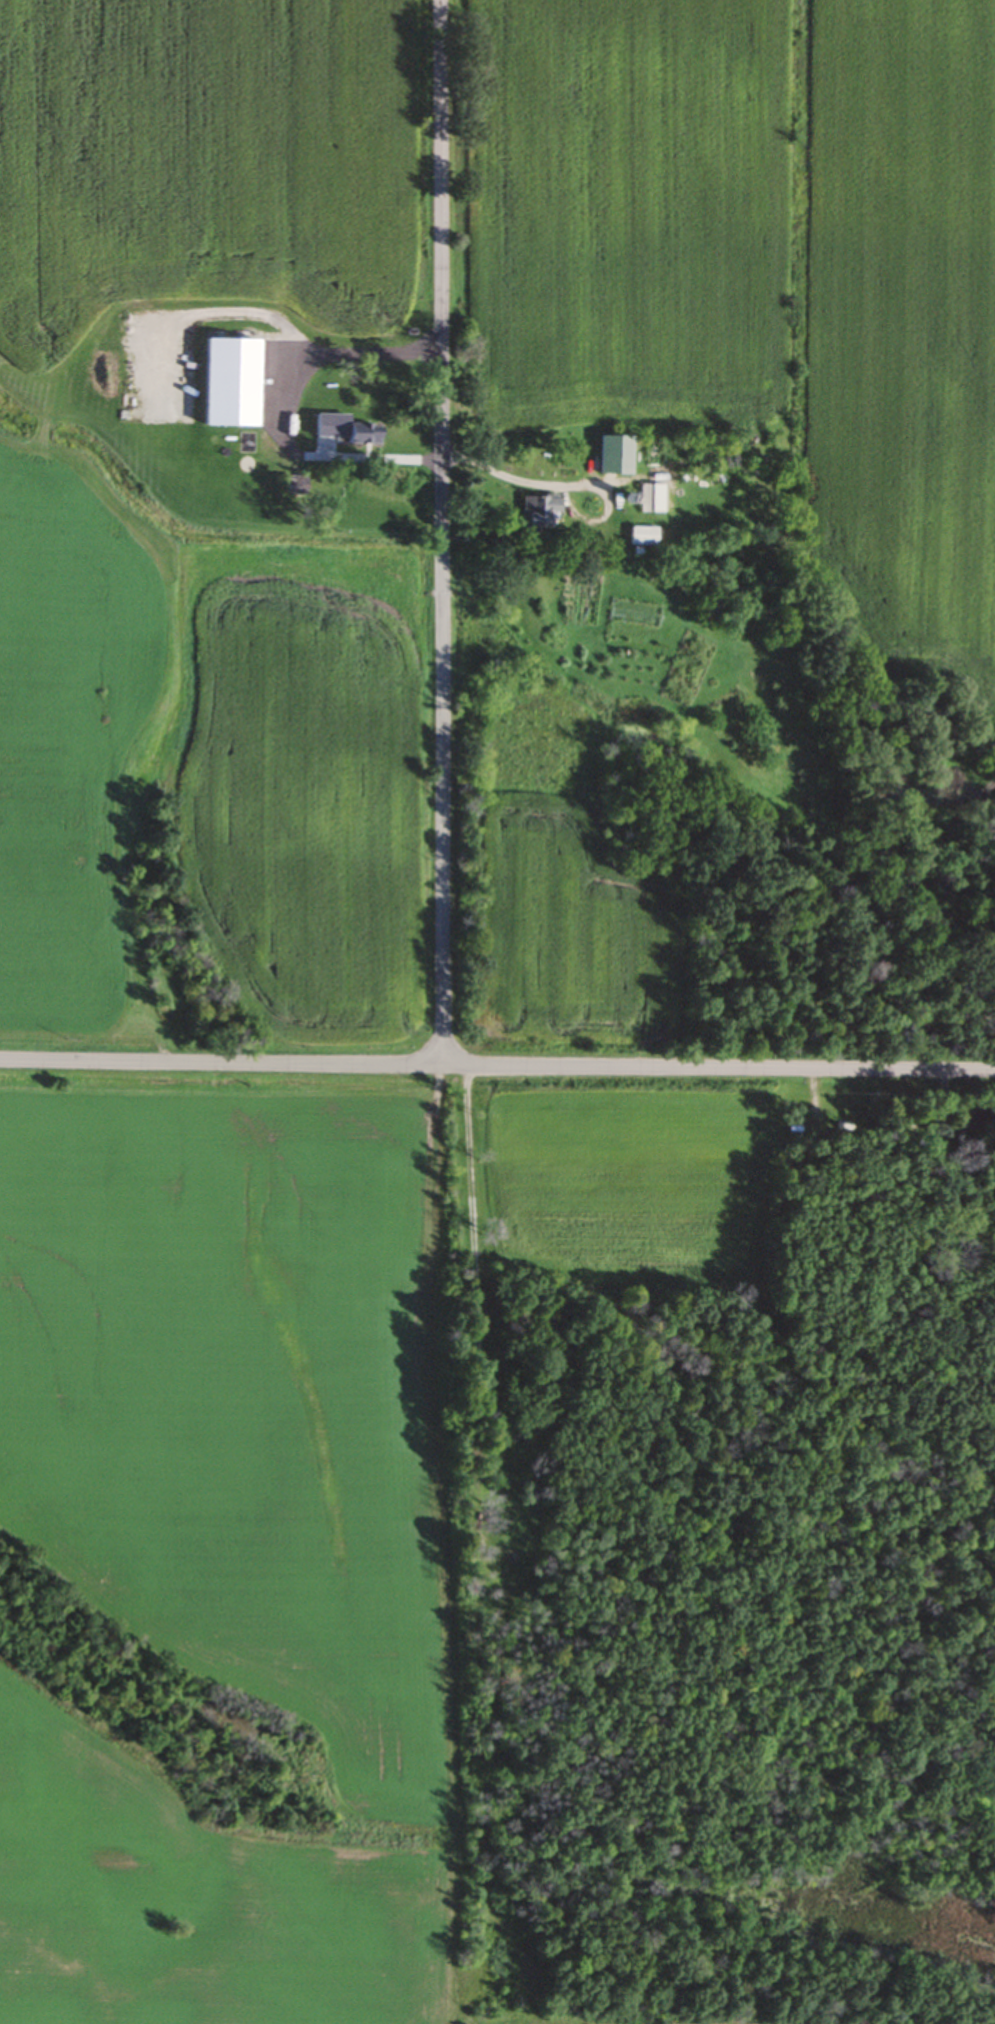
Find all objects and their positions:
building: (307, 384)
road: (272, 411)
building: (355, 434)
building: (612, 456)
building: (688, 483)
road: (564, 486)
building: (291, 487)
building: (643, 500)
building: (536, 515)
road: (440, 531)
building: (640, 537)
building: (634, 614)
road: (497, 1064)

